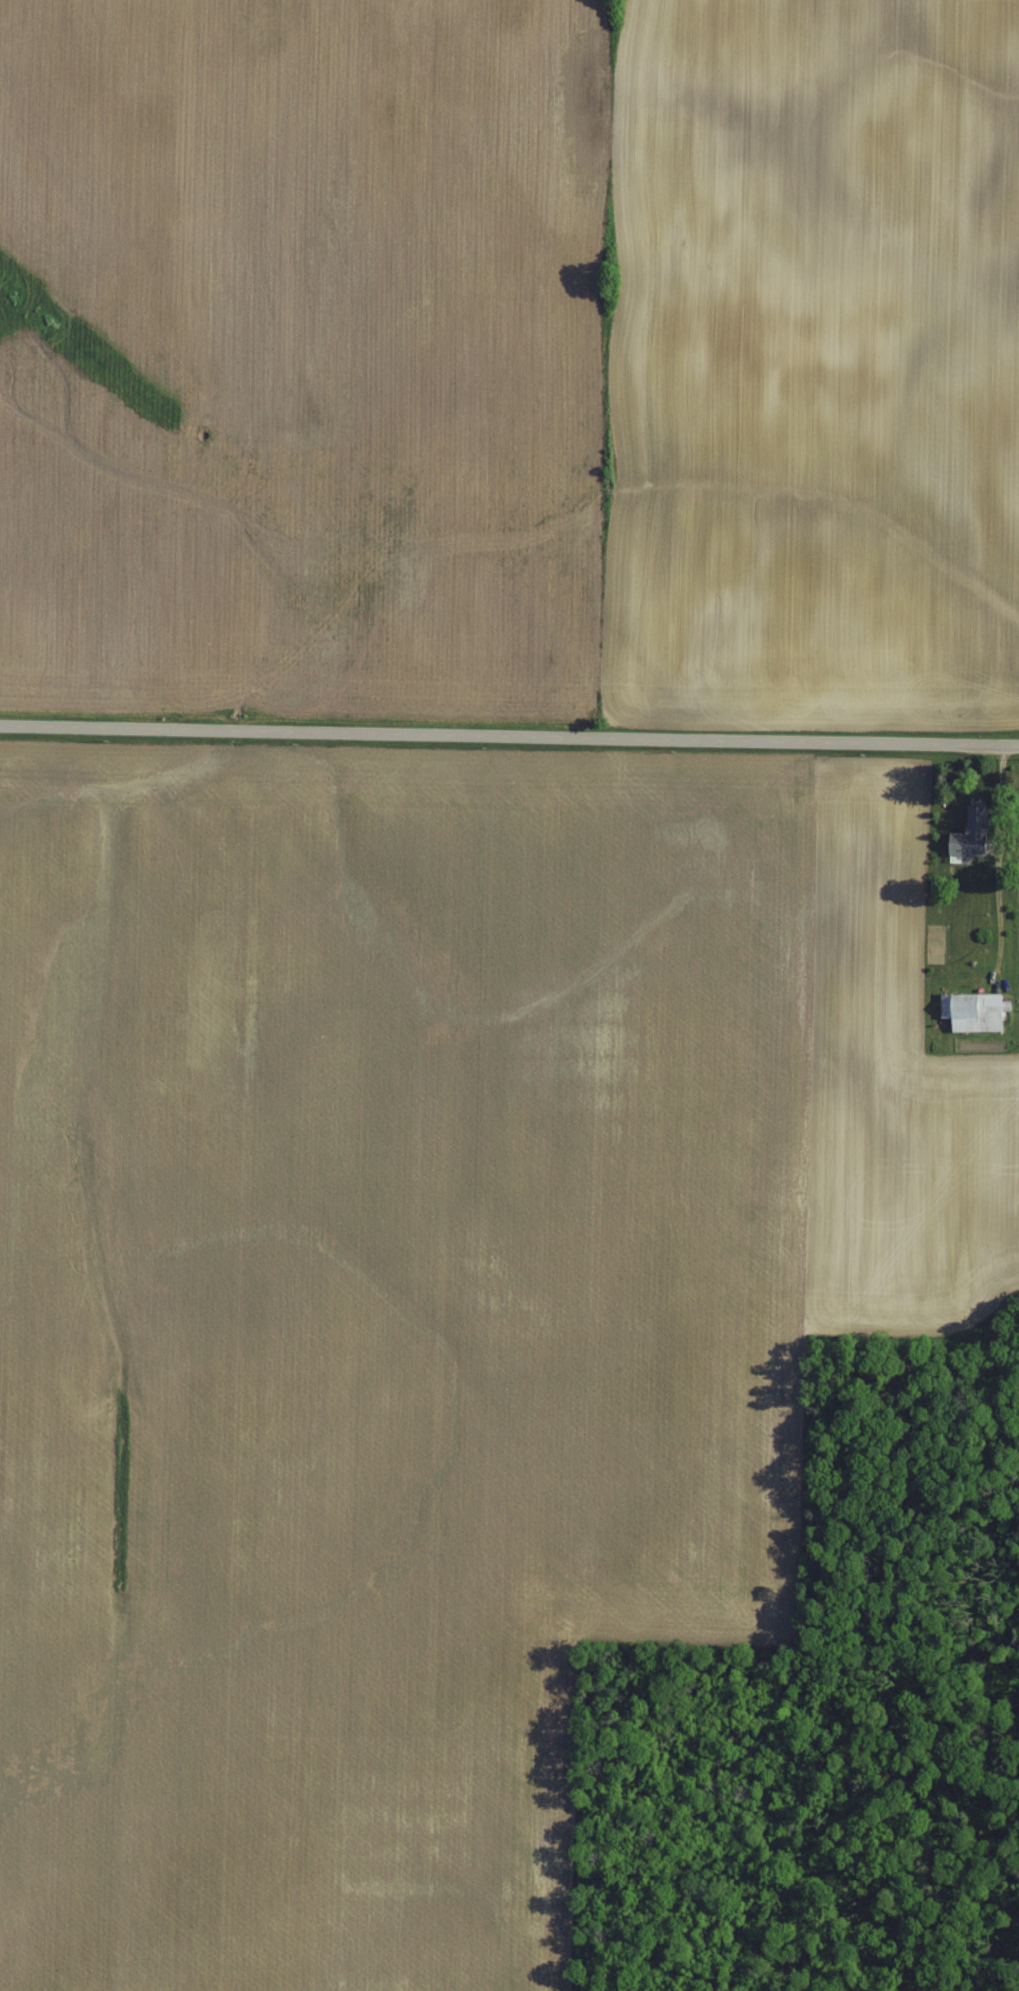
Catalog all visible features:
road: (509, 737)
road: (998, 861)
road: (709, 1718)
road: (1017, 1988)

